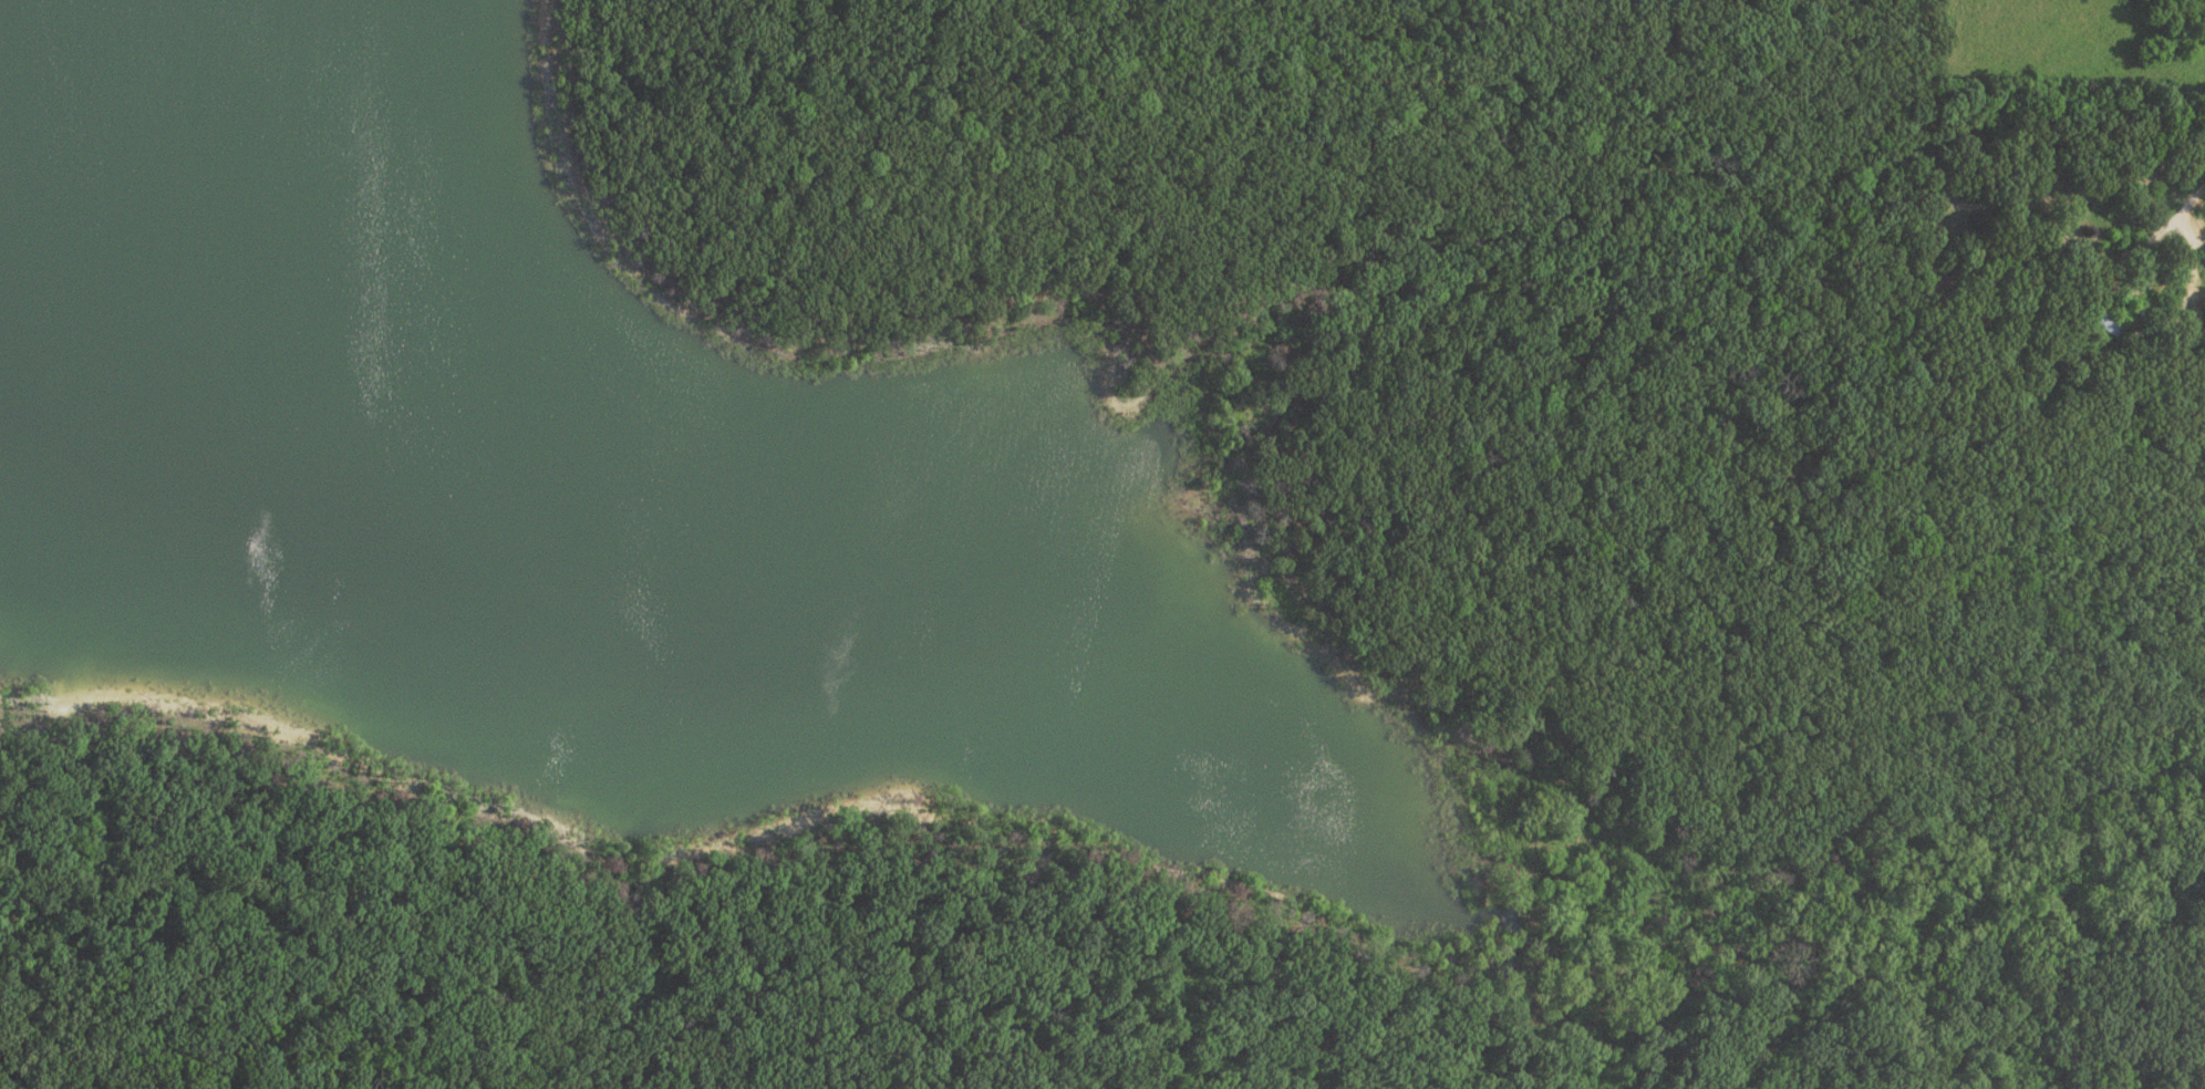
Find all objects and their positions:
road: (1973, 111)
building: (2204, 261)
building: (2104, 320)

